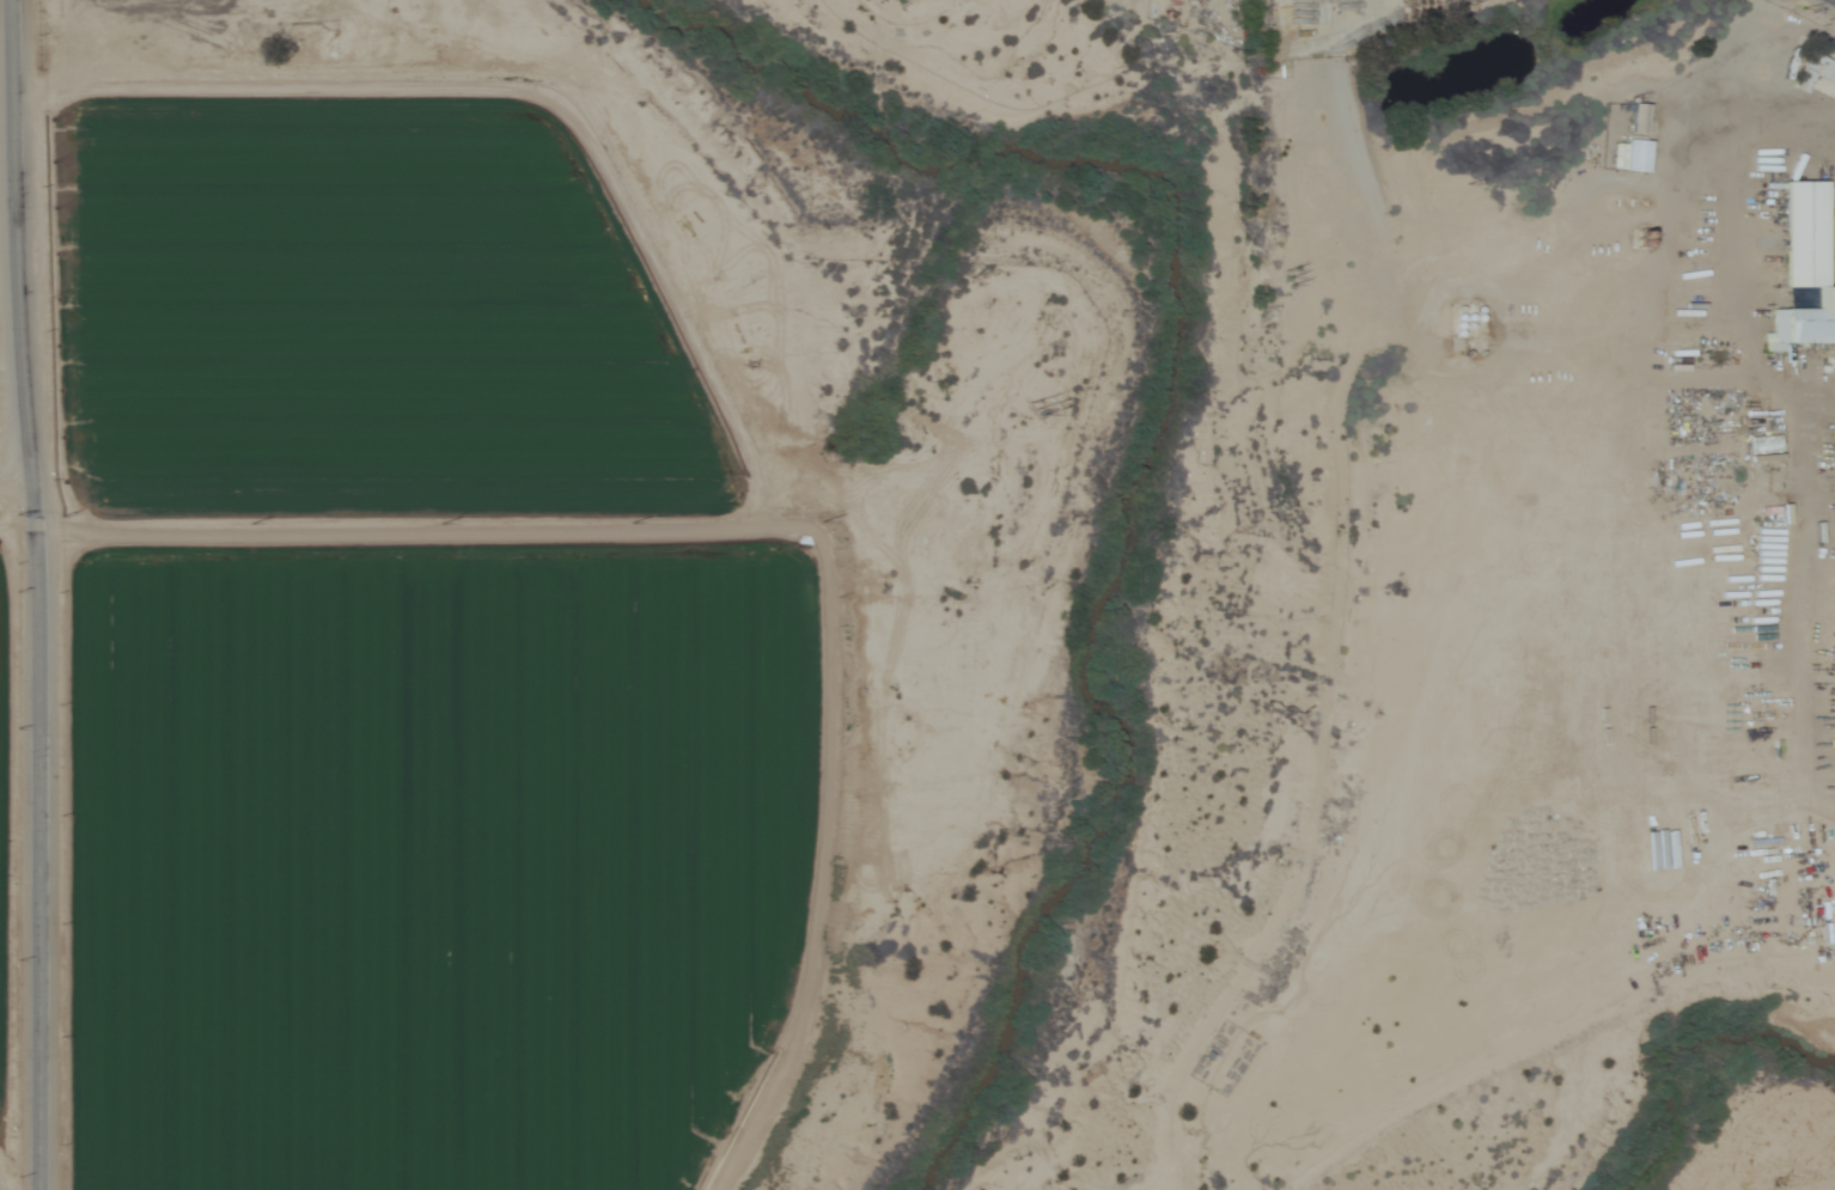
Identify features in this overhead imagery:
building: (48, 0)
park: (981, 57)
building: (1816, 77)
building: (1630, 142)
building: (1800, 270)
crop: (355, 316)
river: (1158, 437)
road: (14, 495)
road: (33, 594)
crop: (4, 853)
crop: (433, 860)
river: (1697, 1061)

